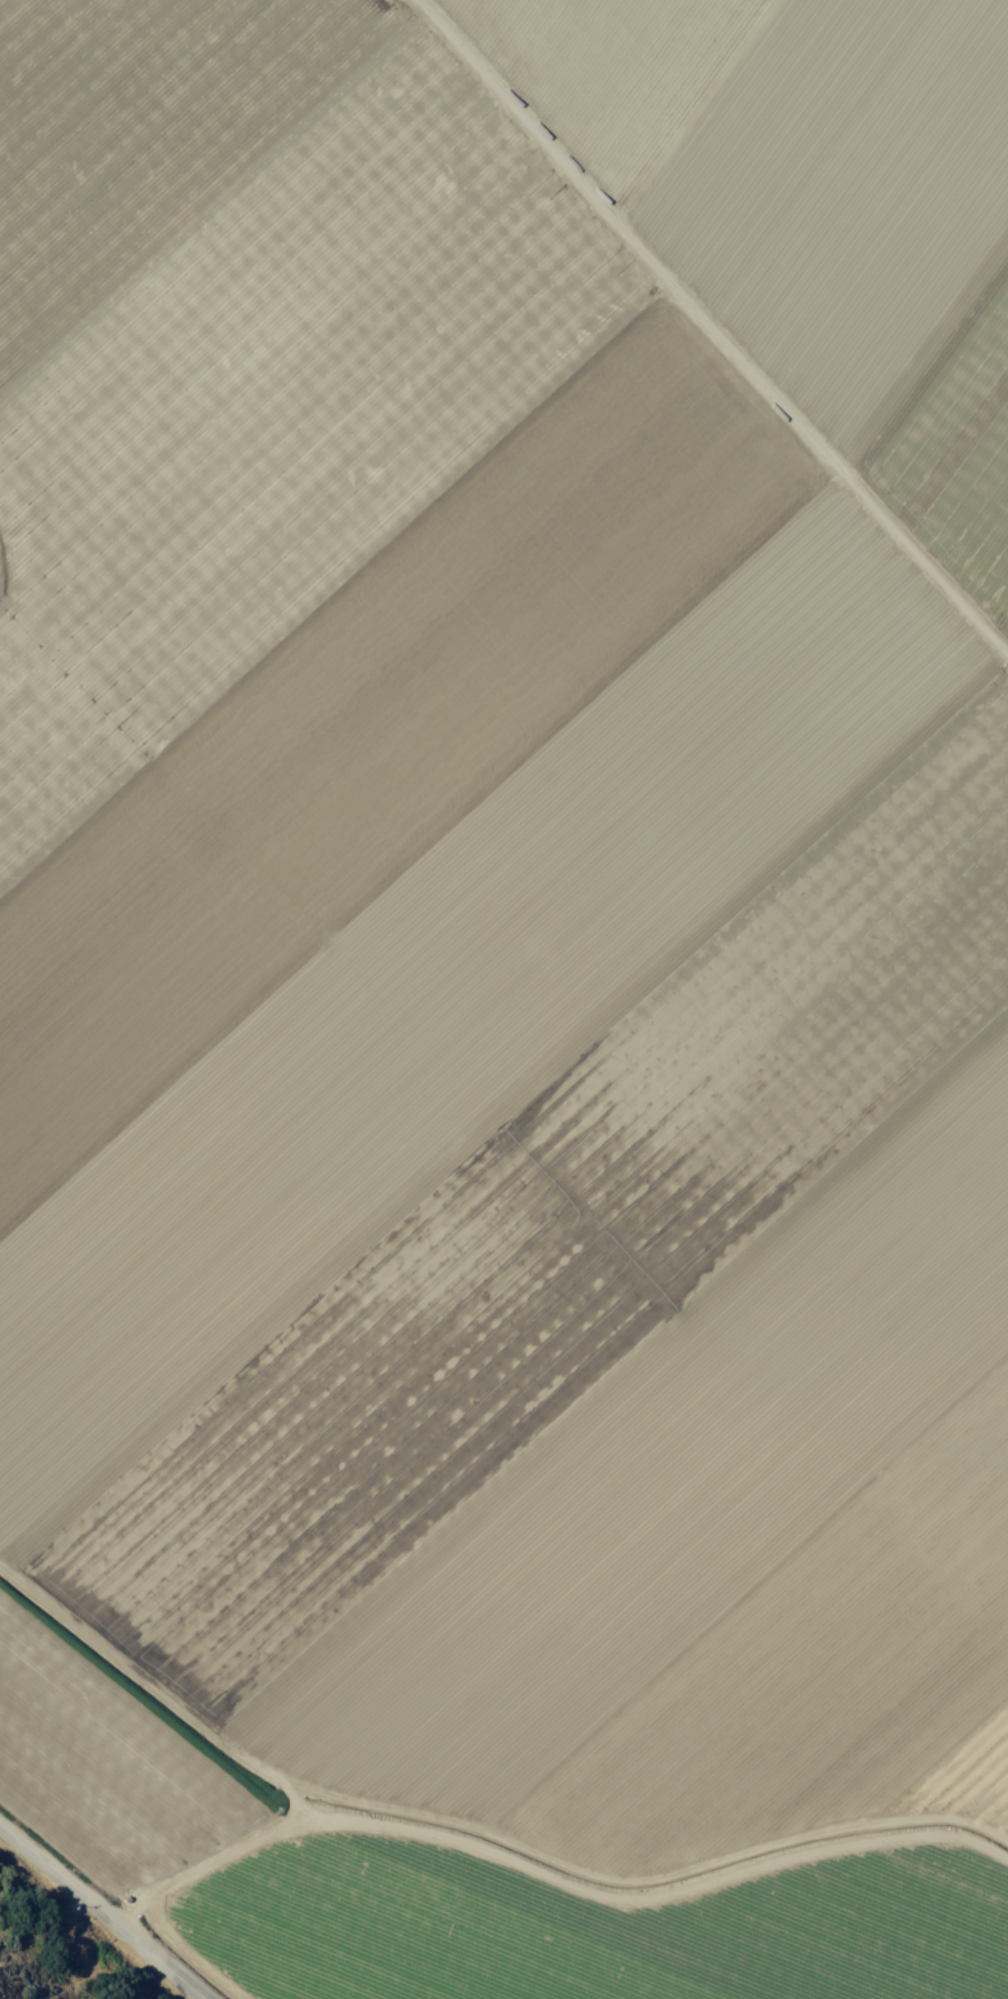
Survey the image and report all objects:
road: (706, 322)
road: (101, 1910)

